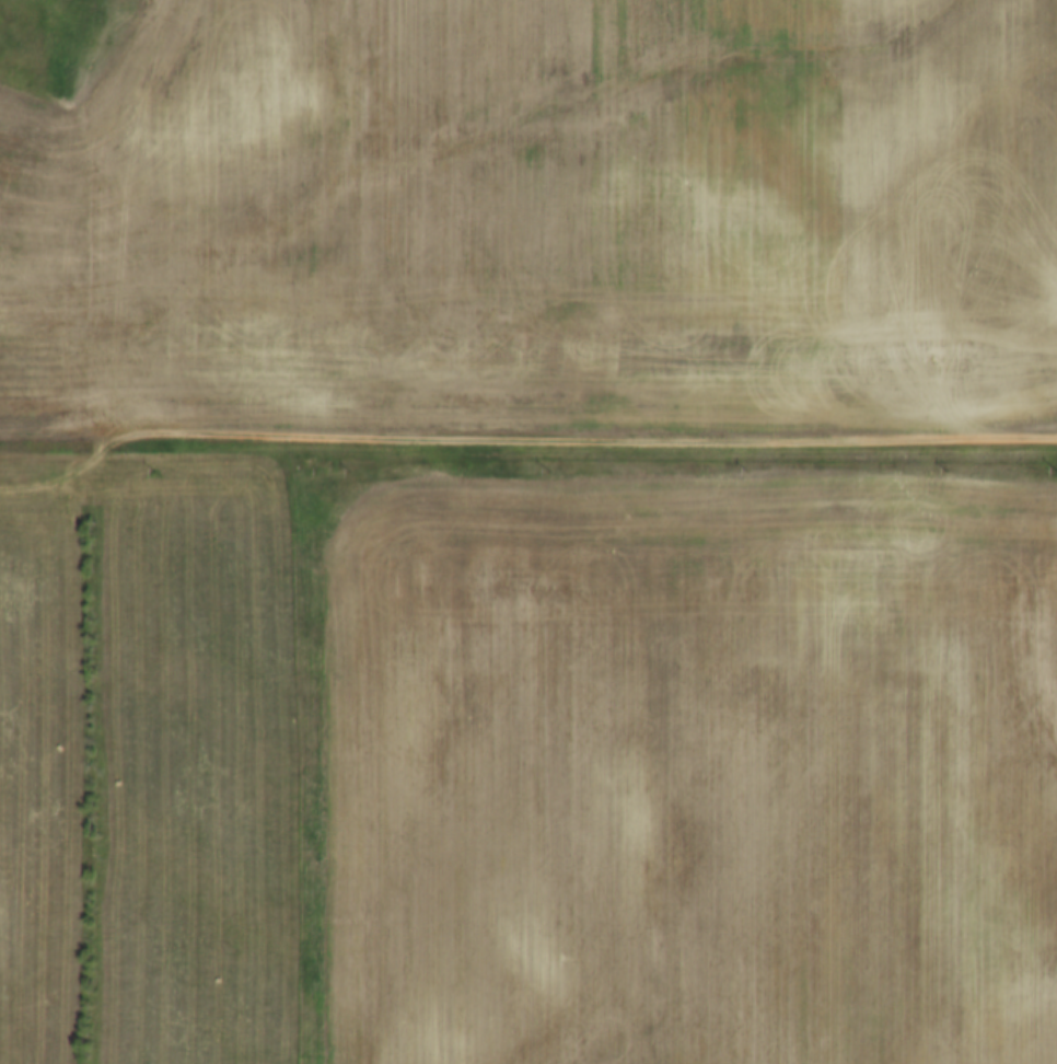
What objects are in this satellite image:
road: (70, 441)
road: (525, 452)

